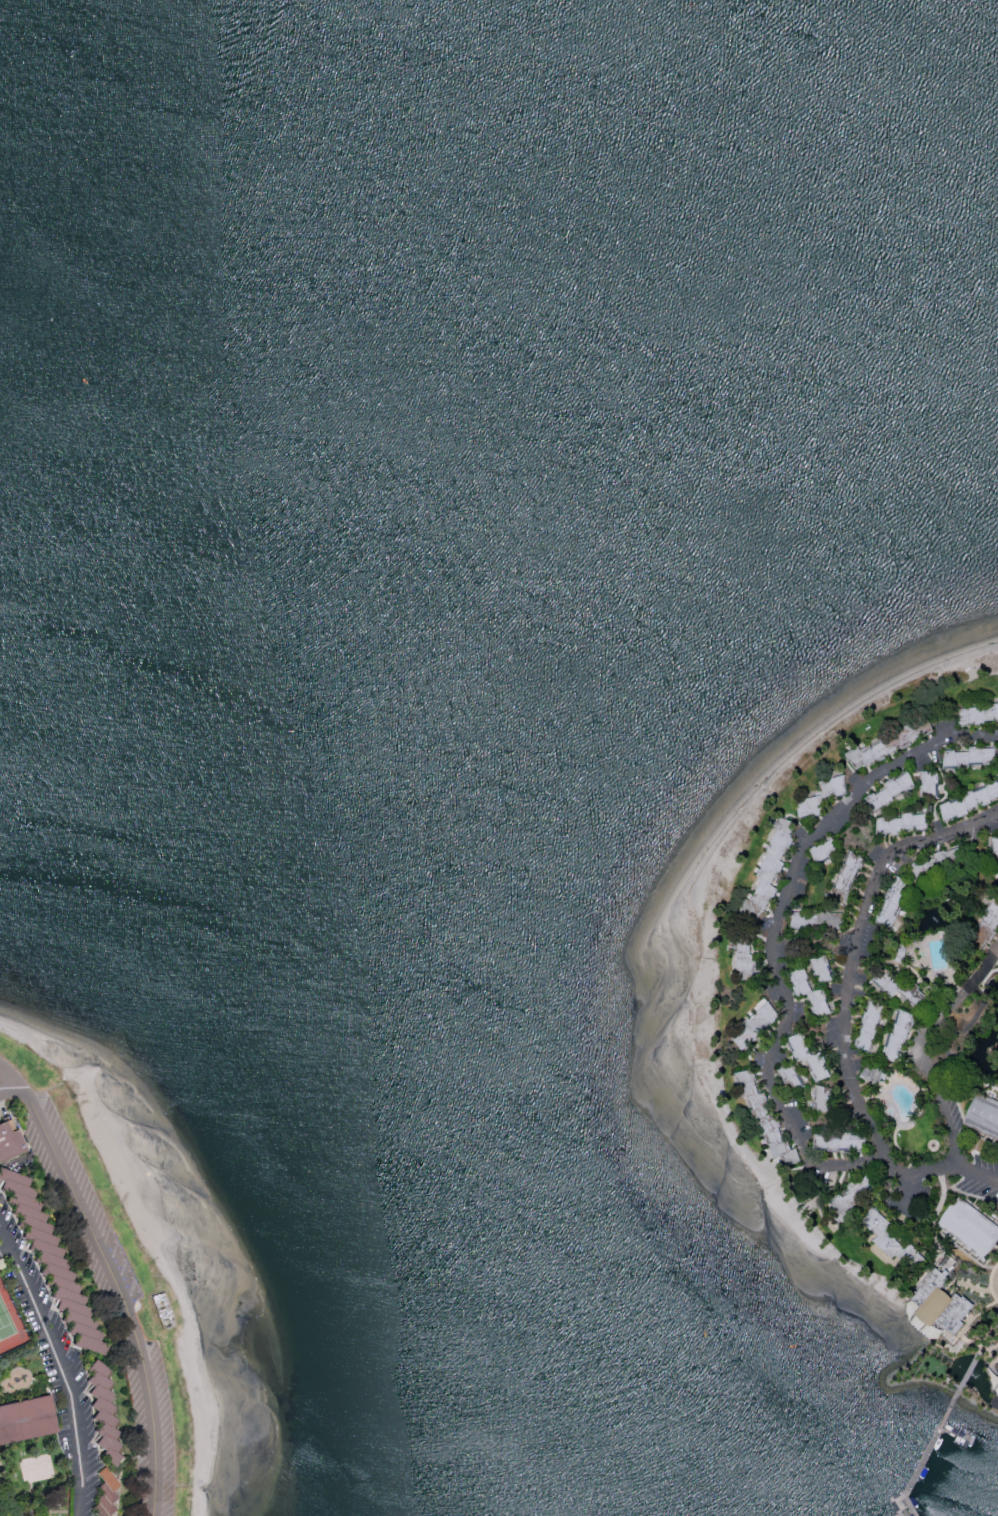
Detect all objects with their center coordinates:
building: (978, 715)
building: (890, 744)
building: (970, 758)
building: (930, 785)
building: (890, 794)
building: (822, 797)
building: (971, 802)
building: (902, 824)
road: (948, 834)
building: (995, 851)
building: (824, 852)
building: (937, 865)
building: (771, 866)
building: (847, 876)
building: (893, 904)
building: (818, 921)
building: (987, 927)
road: (776, 935)
building: (937, 950)
building: (744, 951)
road: (994, 957)
building: (822, 969)
road: (980, 975)
building: (901, 989)
building: (810, 992)
building: (871, 1026)
building: (753, 1028)
building: (899, 1037)
road: (846, 1046)
building: (808, 1057)
building: (874, 1074)
building: (791, 1079)
road: (15, 1085)
road: (938, 1087)
building: (820, 1099)
building: (984, 1116)
building: (766, 1122)
building: (917, 1136)
building: (8, 1141)
building: (841, 1142)
parking lot: (981, 1179)
road: (908, 1191)
building: (854, 1199)
building: (970, 1228)
road: (5, 1239)
building: (893, 1241)
building: (49, 1264)
road: (120, 1292)
building: (941, 1304)
park: (10, 1322)
road: (988, 1349)
building: (997, 1366)
road: (971, 1370)
road: (63, 1372)
road: (960, 1391)
building: (98, 1410)
building: (26, 1420)
pier: (926, 1455)
building: (104, 1493)

